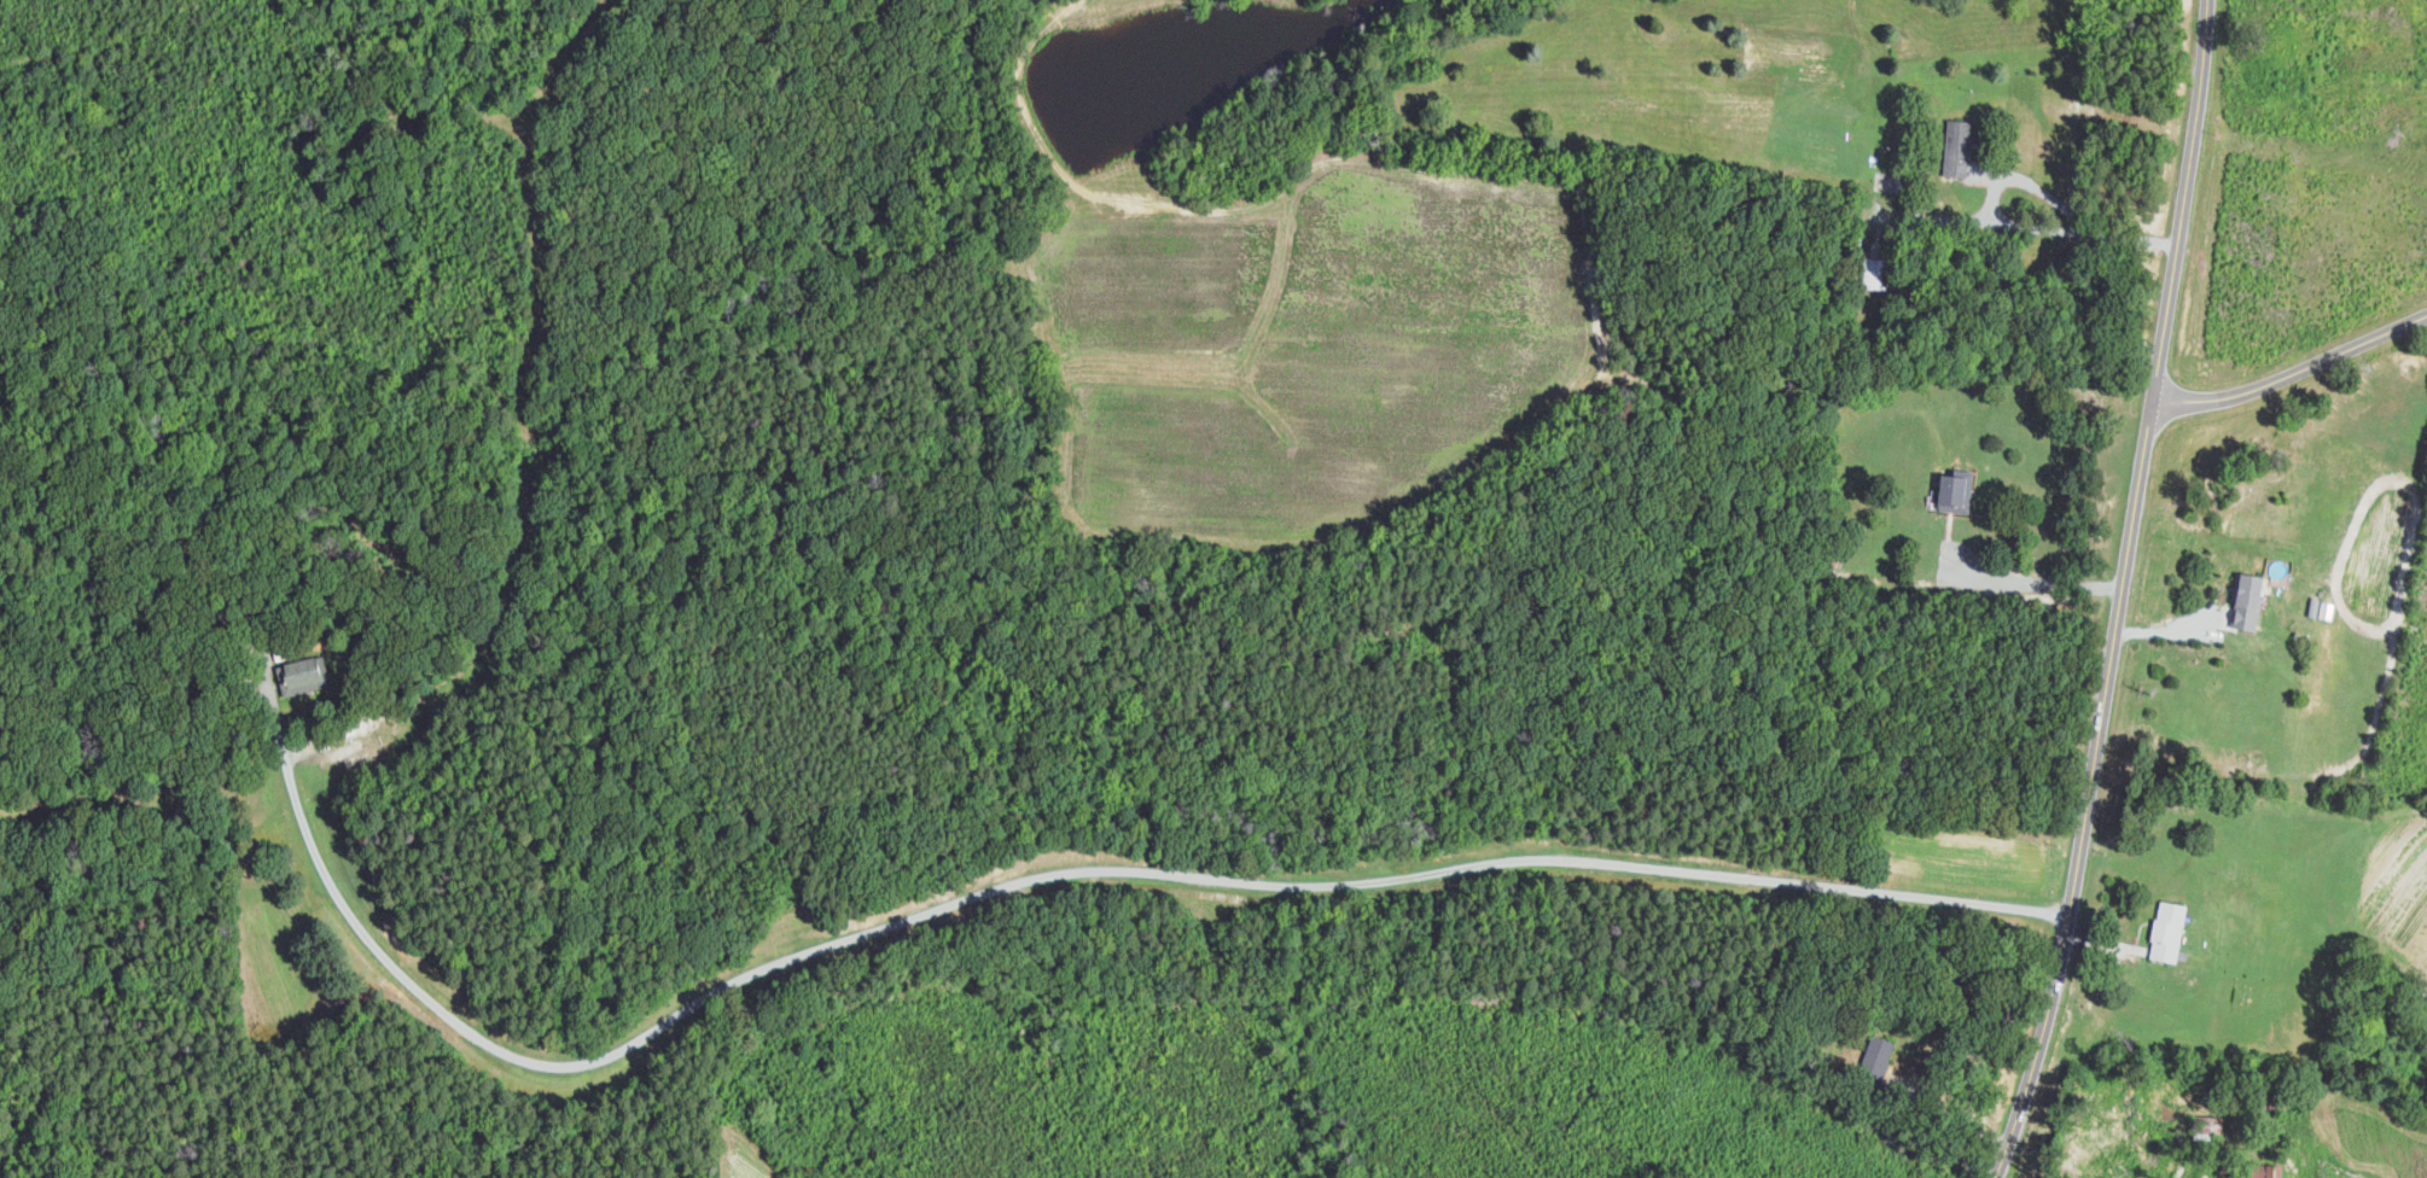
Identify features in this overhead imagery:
building: (1961, 150)
road: (2000, 218)
road: (2294, 372)
building: (1955, 491)
road: (2039, 582)
road: (2120, 594)
building: (2251, 597)
building: (302, 676)
road: (1036, 880)
building: (2171, 929)
road: (1951, 1121)

